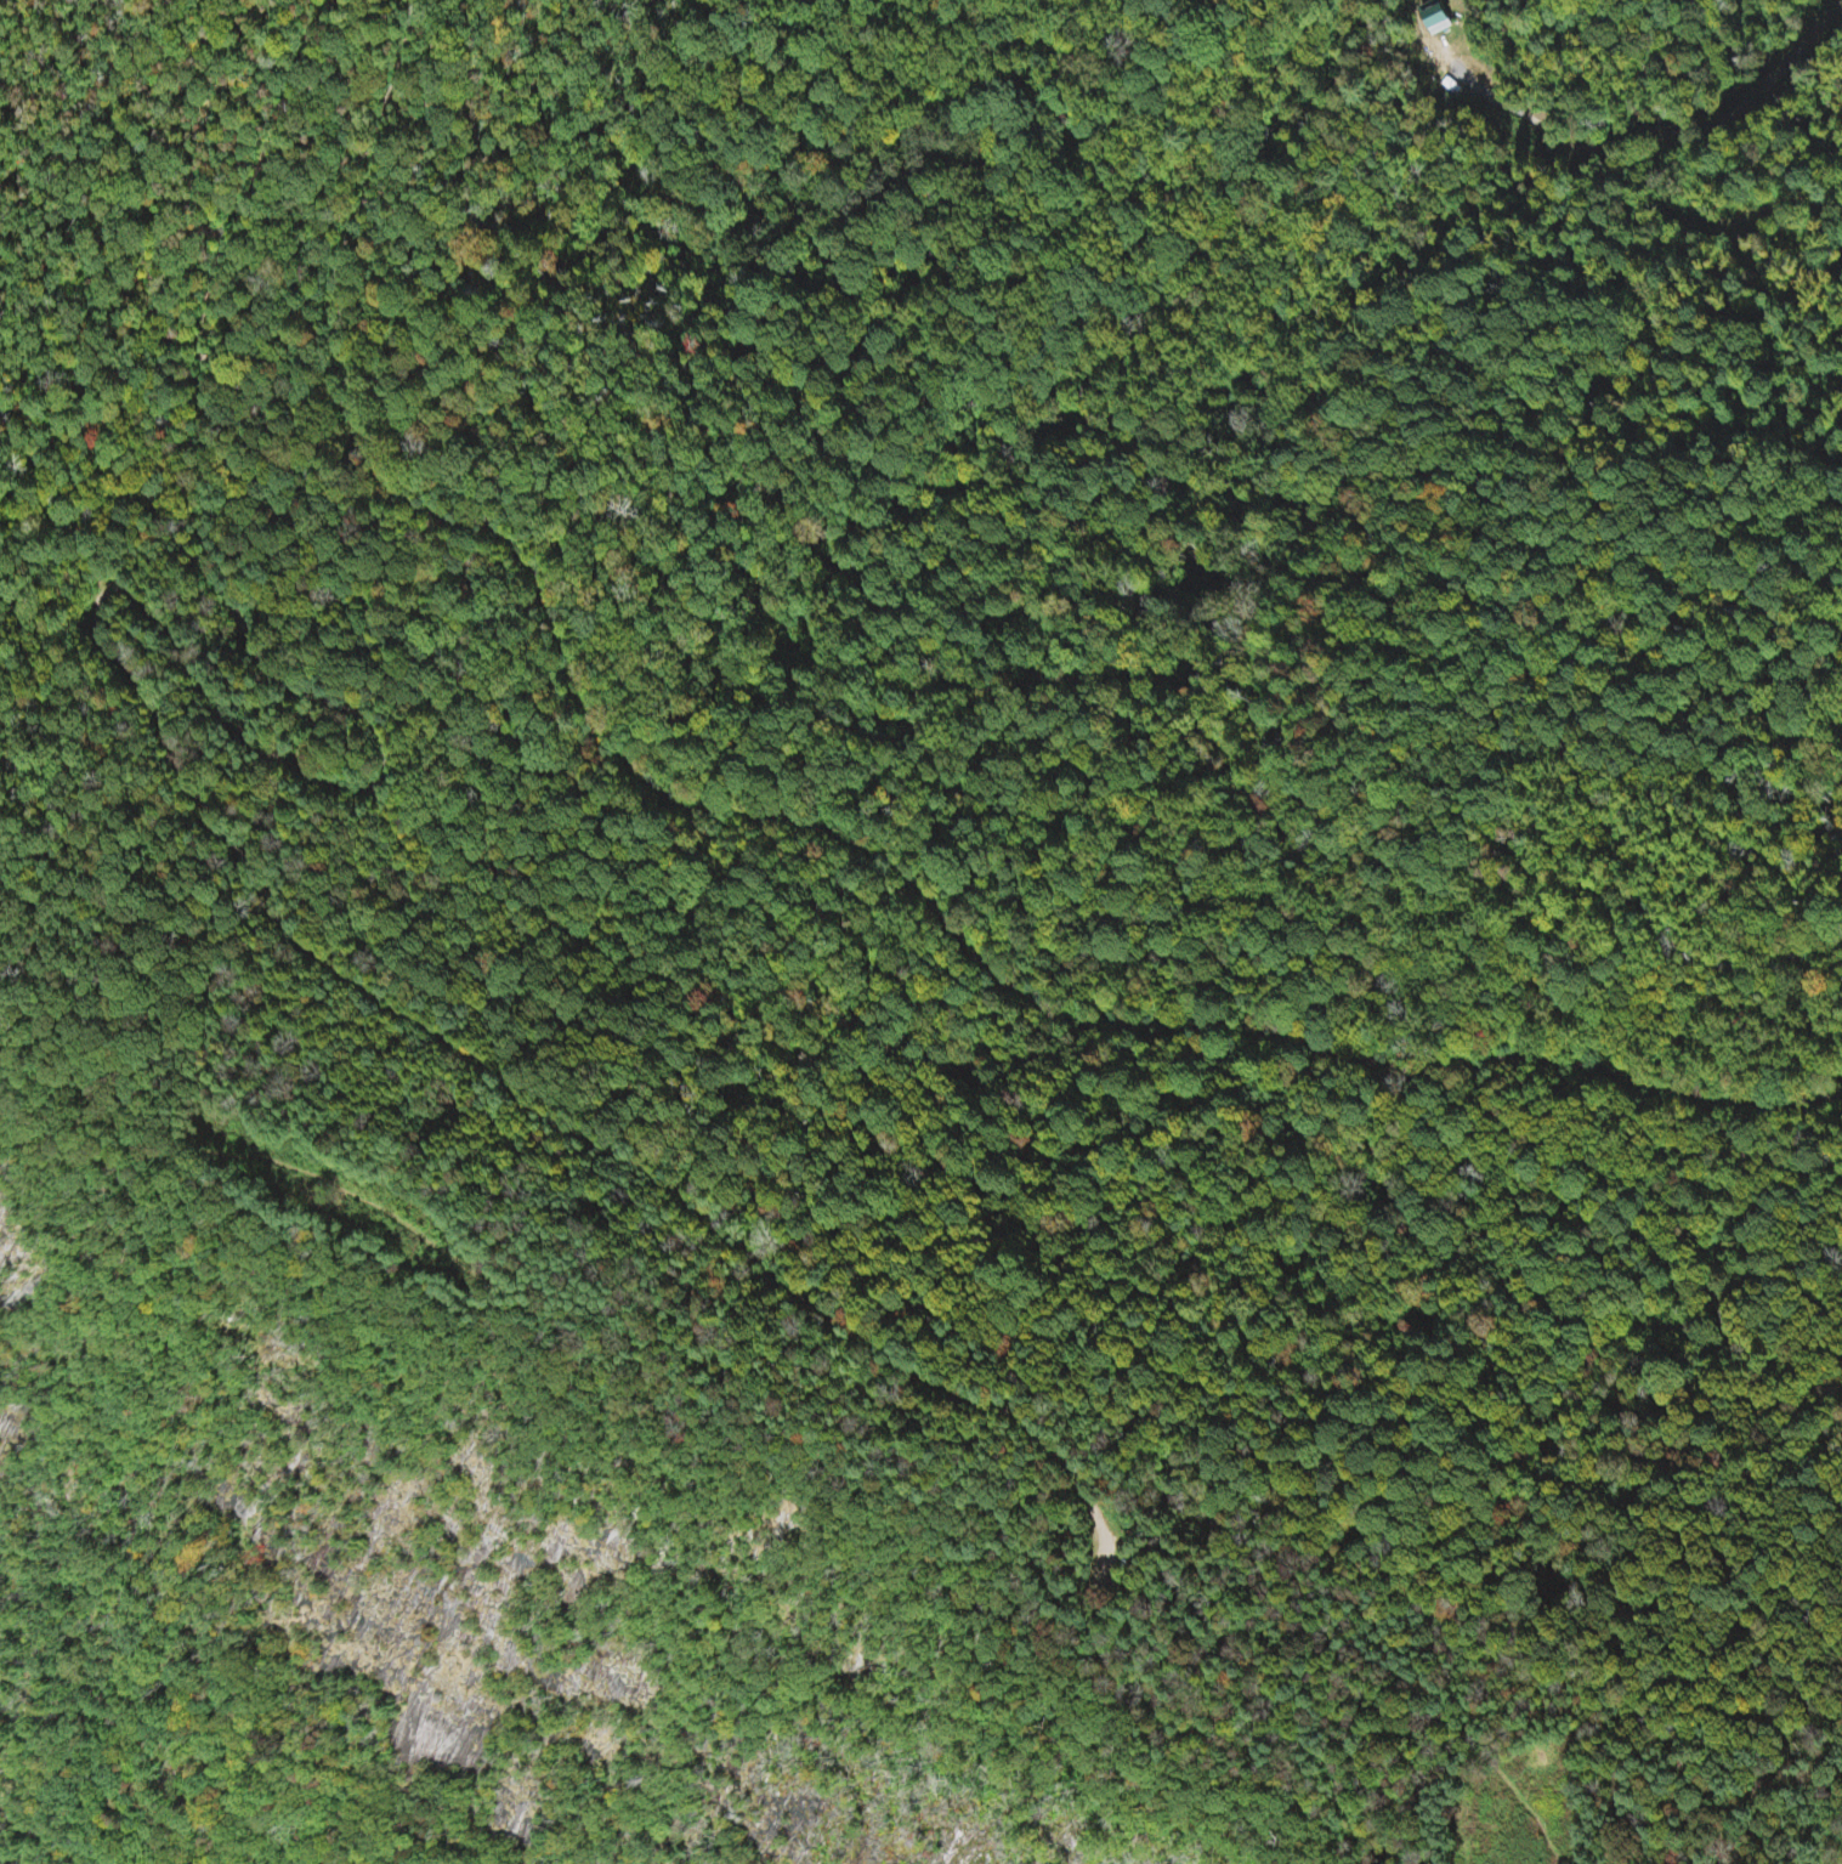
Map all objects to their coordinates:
building: (1439, 21)
road: (34, 599)
road: (131, 676)
road: (821, 828)
road: (84, 1106)
road: (924, 1497)
parking lot: (1103, 1553)
road: (1094, 1583)

